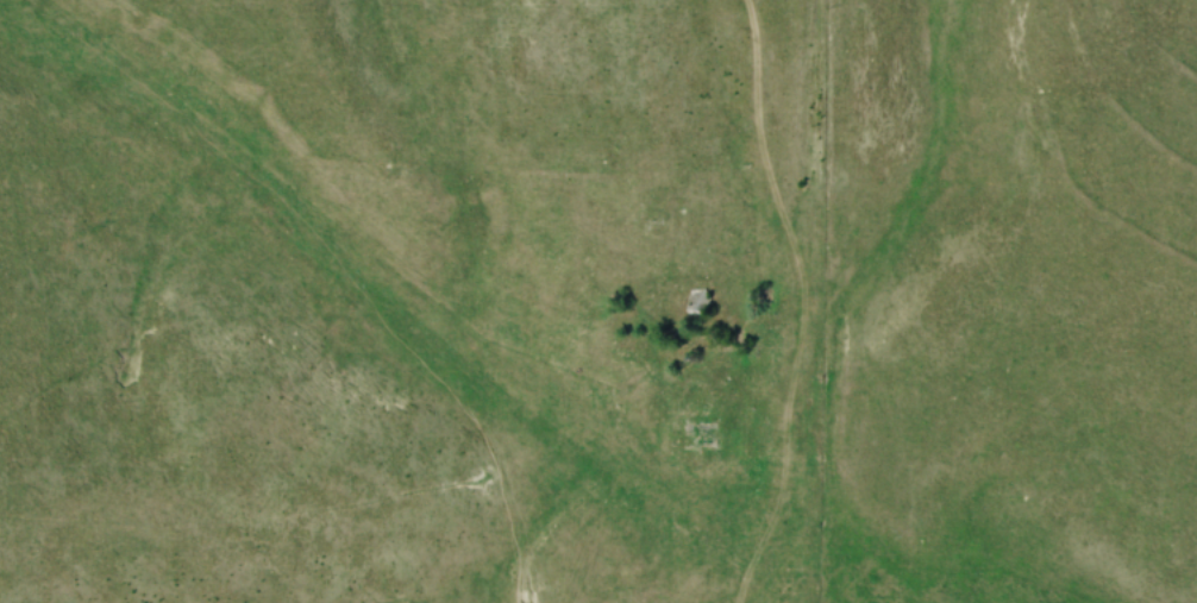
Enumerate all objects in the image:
building: (695, 302)

